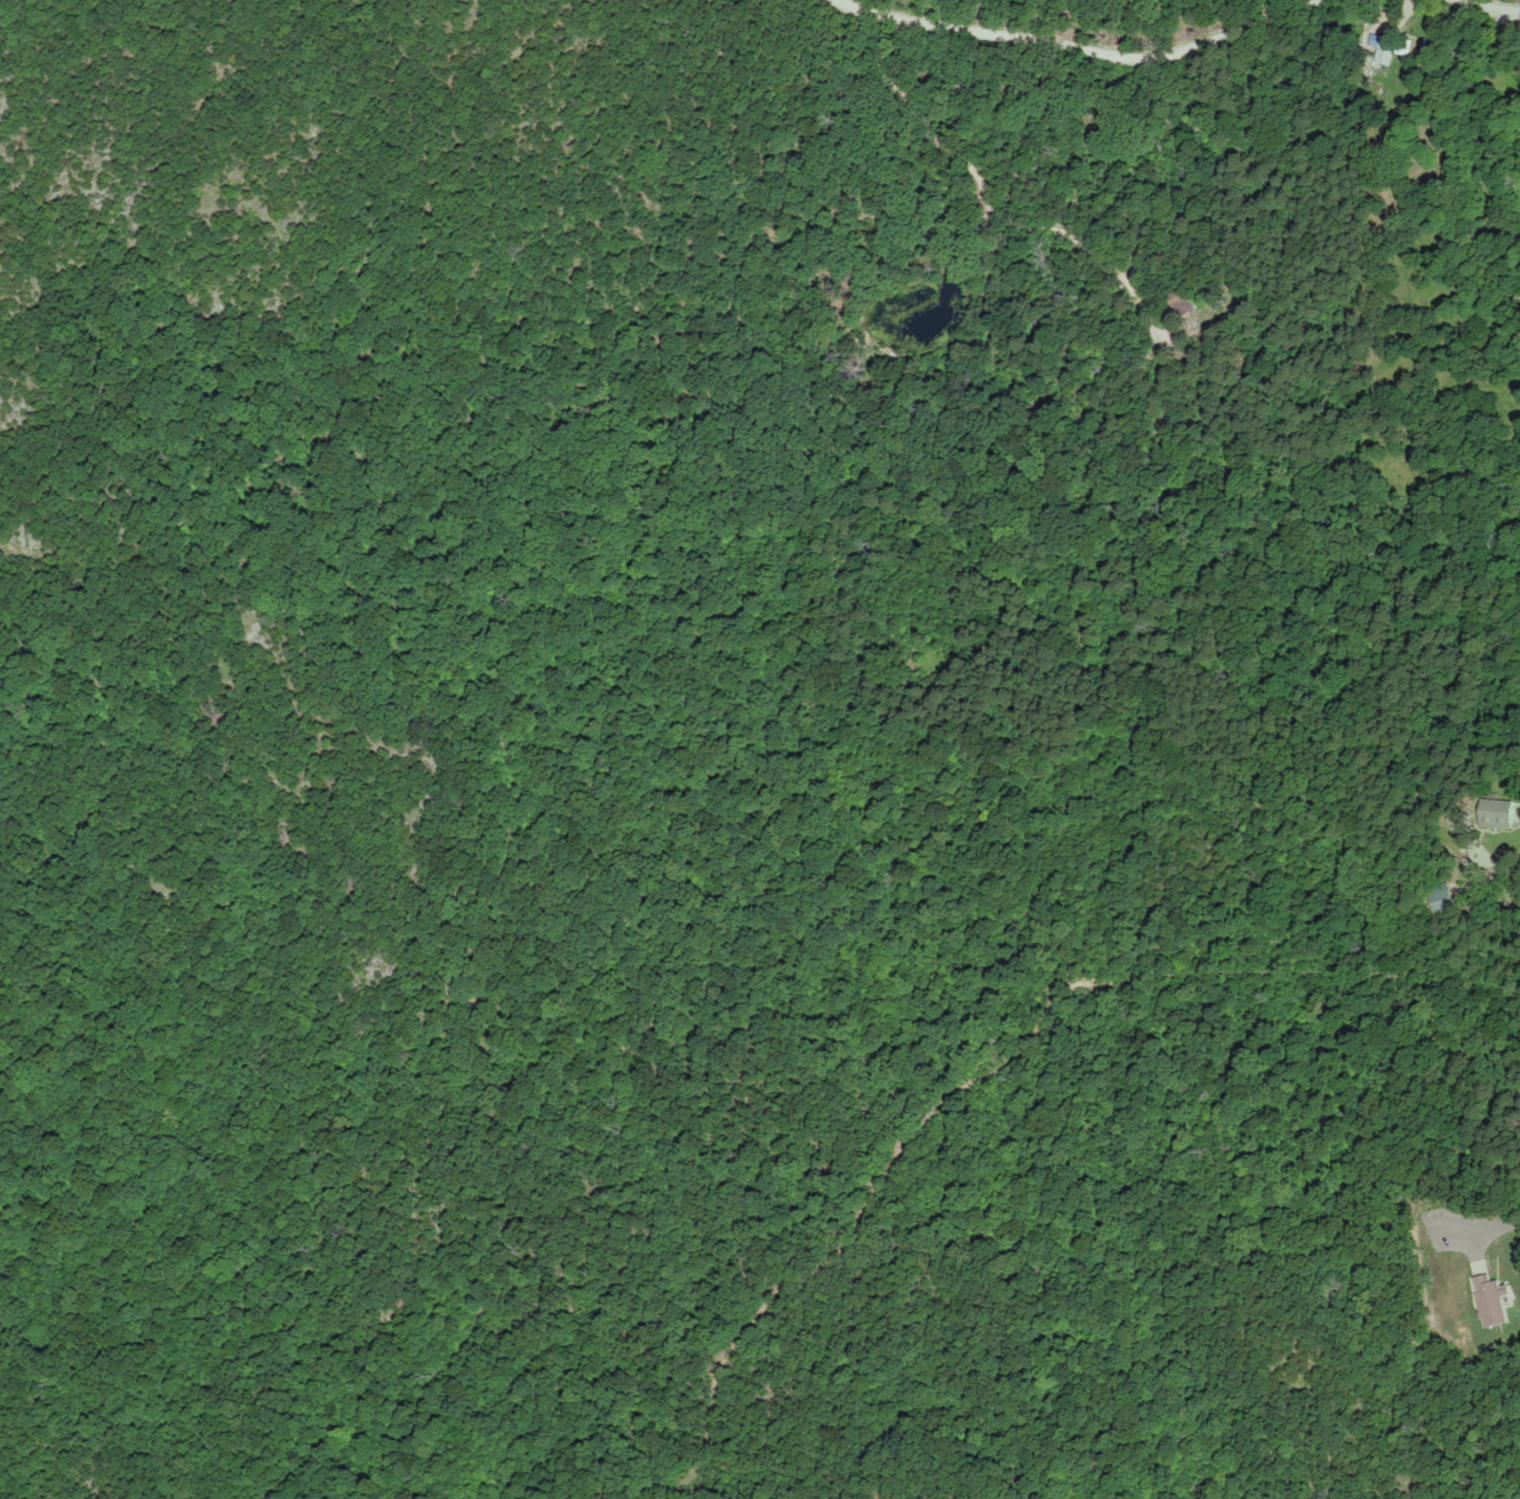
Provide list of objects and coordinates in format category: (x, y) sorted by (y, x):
building: (1181, 303)
building: (1497, 815)
building: (1442, 899)
road: (1491, 1233)
building: (1492, 1301)

